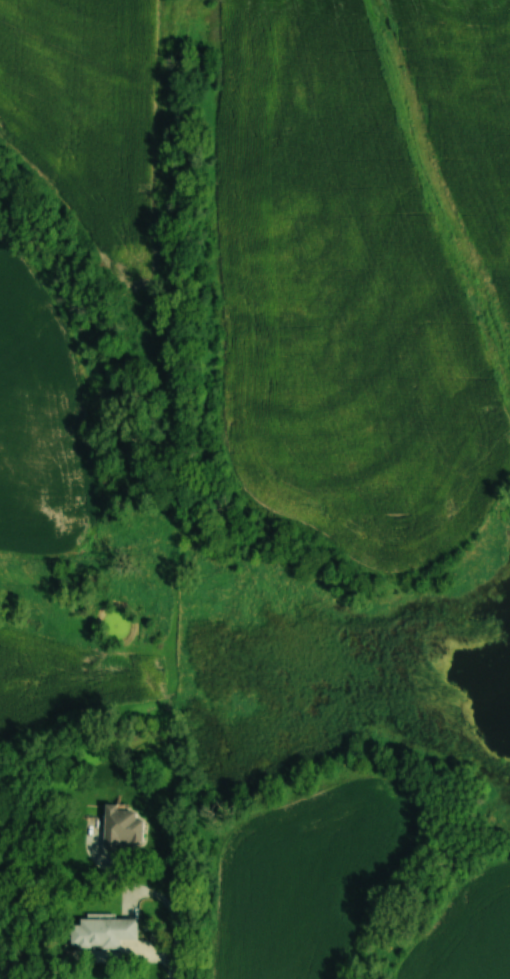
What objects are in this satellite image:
building: (120, 827)
road: (150, 893)
building: (101, 932)
road: (113, 957)

